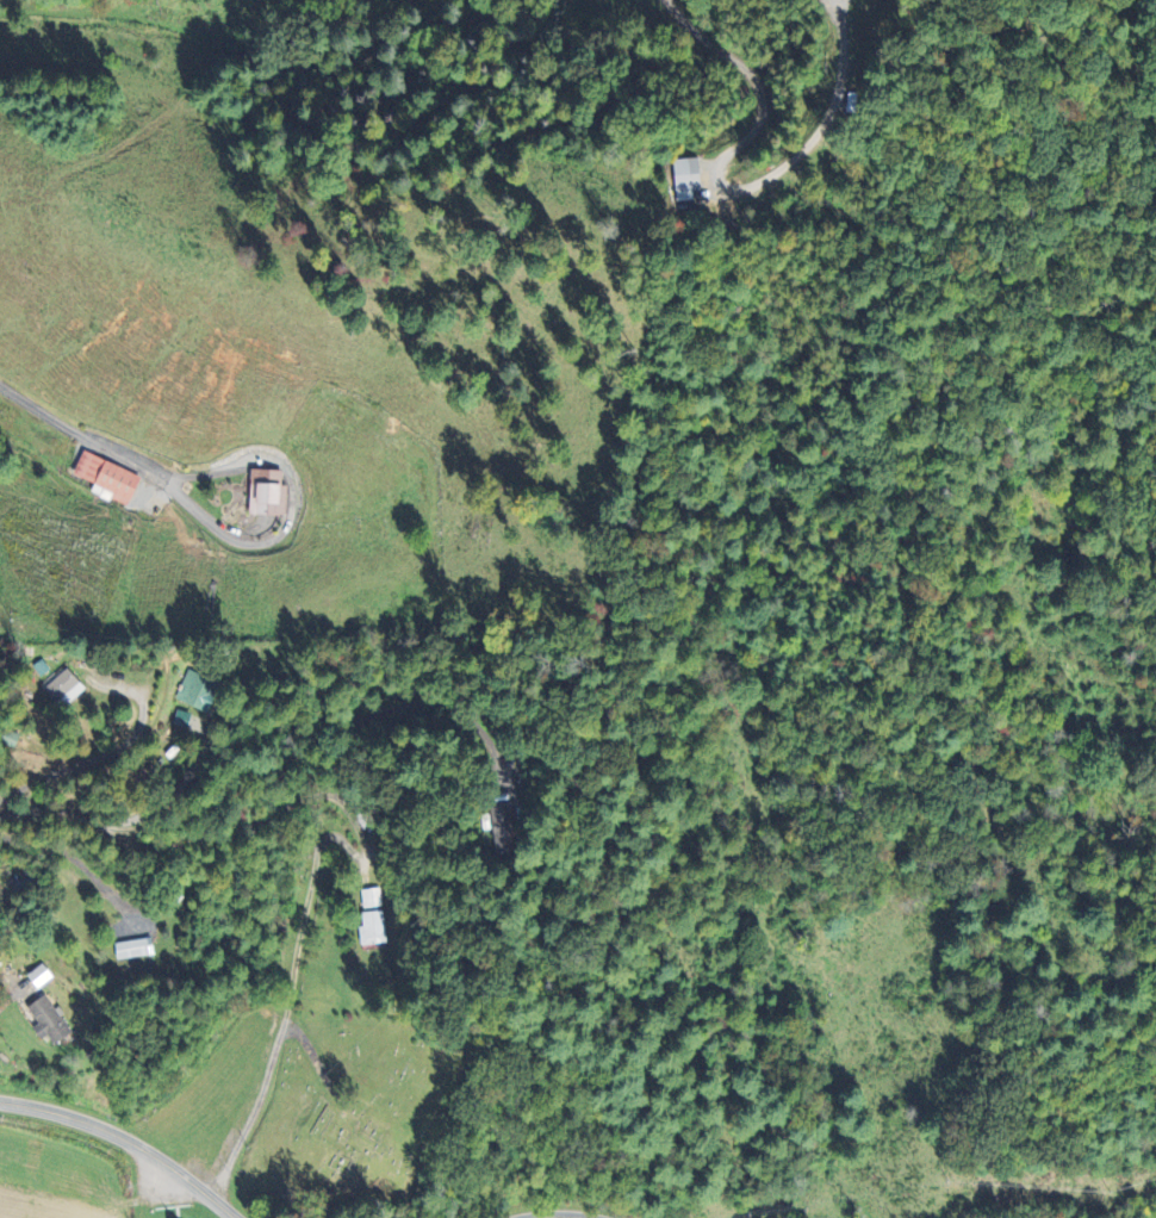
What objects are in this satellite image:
building: (684, 178)
road: (726, 188)
road: (81, 430)
building: (105, 478)
building: (265, 492)
building: (51, 690)
building: (191, 692)
building: (174, 720)
road: (273, 758)
road: (63, 769)
building: (501, 827)
building: (371, 897)
building: (372, 928)
building: (131, 949)
building: (37, 976)
road: (290, 1000)
building: (46, 1020)
park: (355, 1113)
road: (126, 1138)
road: (547, 1217)

